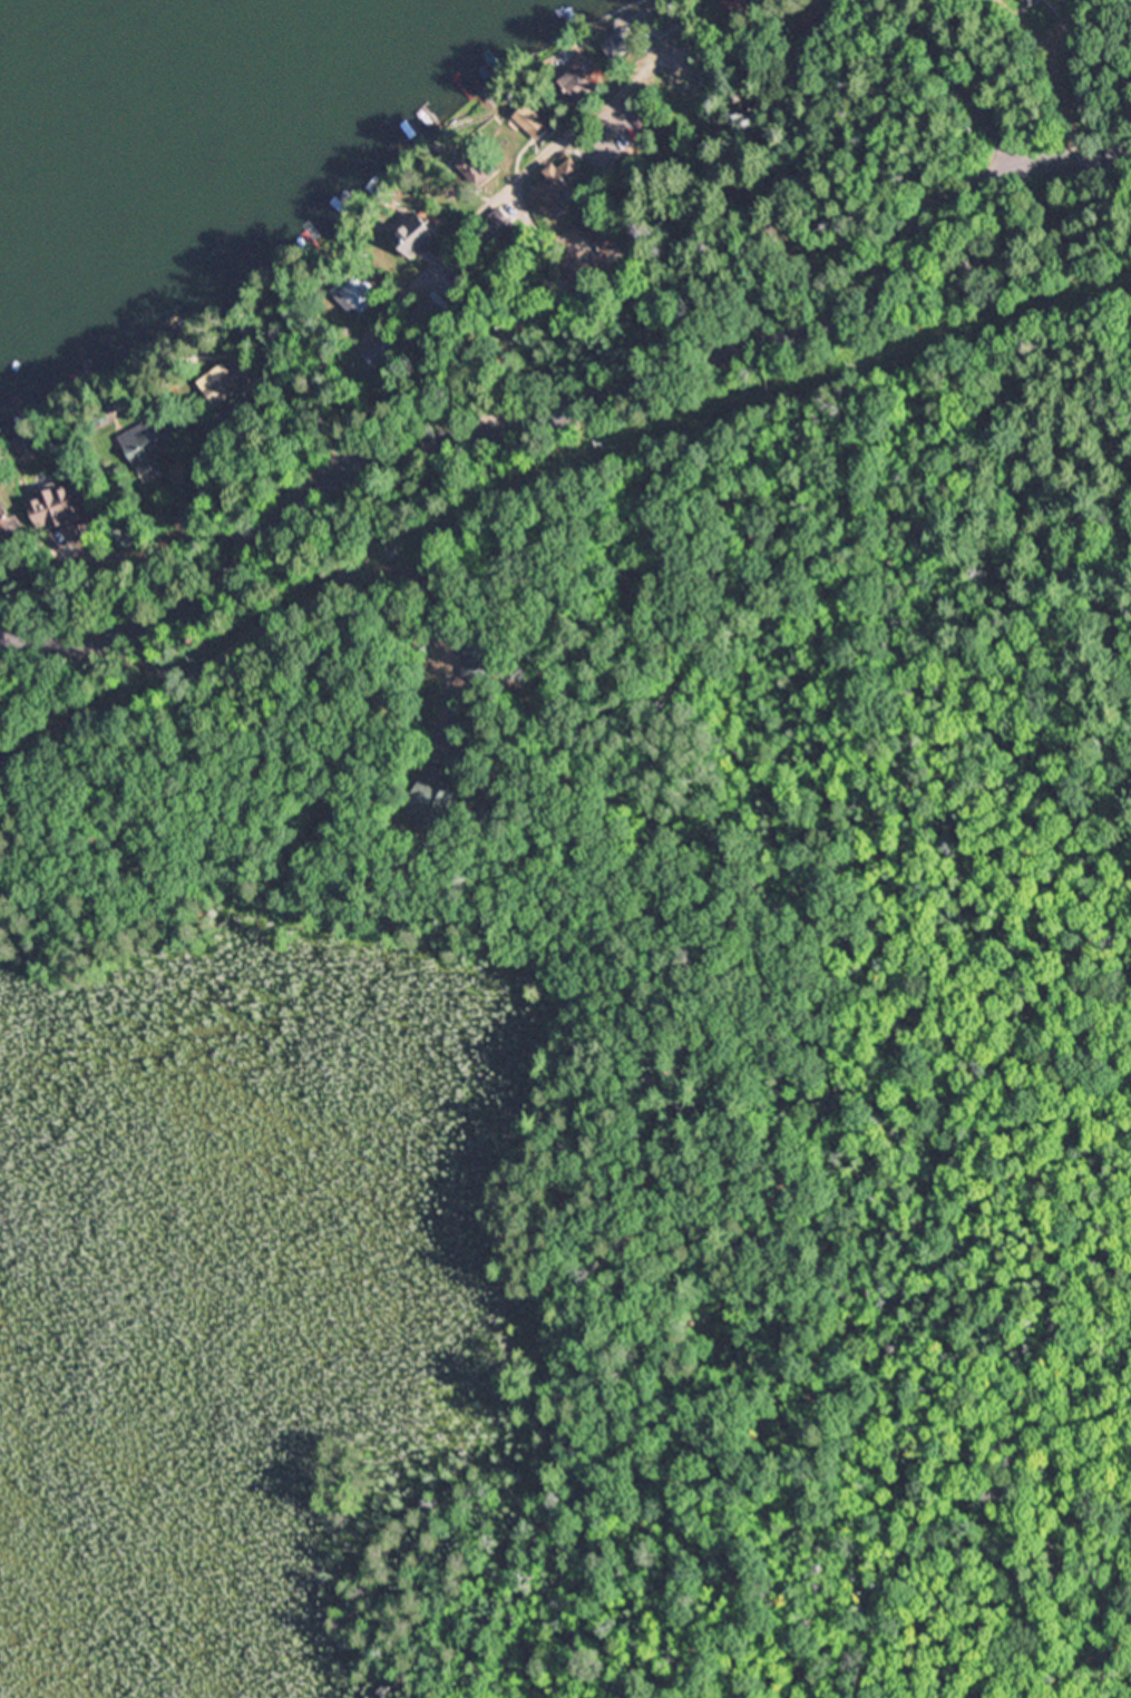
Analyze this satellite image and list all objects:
building: (1030, 0)
building: (739, 6)
building: (1093, 14)
building: (812, 23)
building: (622, 46)
road: (1103, 78)
building: (582, 84)
road: (908, 97)
building: (537, 125)
building: (481, 168)
building: (563, 184)
road: (515, 187)
building: (498, 224)
building: (606, 234)
building: (418, 236)
building: (451, 271)
building: (358, 296)
building: (591, 300)
building: (432, 312)
building: (254, 332)
building: (384, 353)
building: (276, 361)
building: (230, 382)
road: (571, 411)
building: (100, 414)
building: (150, 442)
building: (30, 445)
building: (221, 448)
building: (313, 453)
building: (70, 508)
building: (8, 524)
building: (131, 540)
building: (35, 599)
building: (412, 664)
building: (480, 665)
building: (400, 692)
building: (491, 710)
building: (437, 797)
building: (493, 810)

